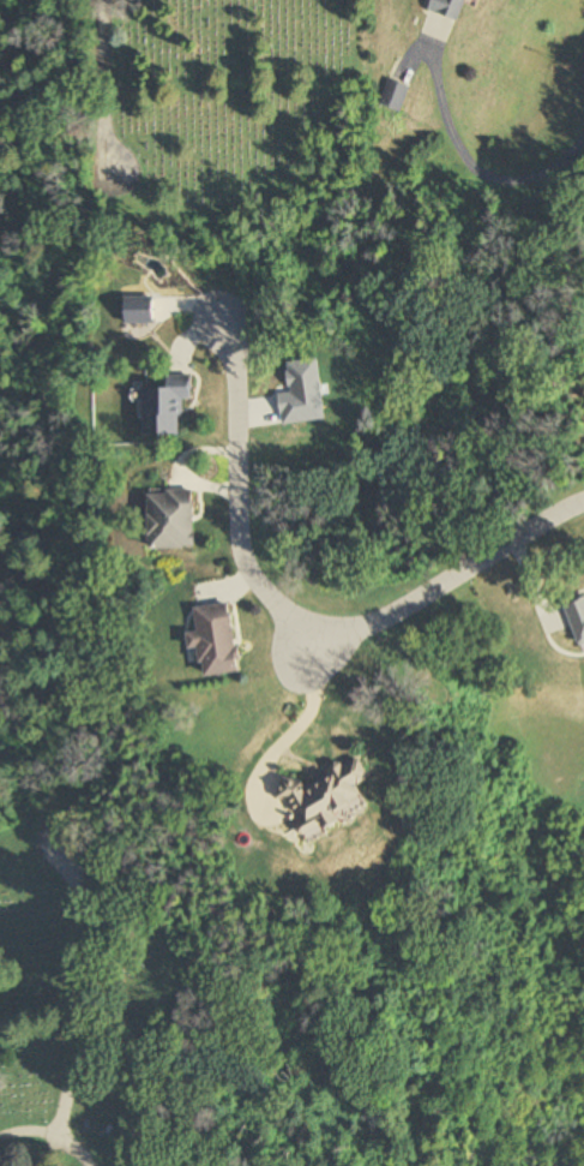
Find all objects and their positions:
building: (450, 8)
road: (103, 86)
building: (396, 97)
road: (466, 166)
building: (165, 407)
road: (236, 494)
building: (170, 520)
road: (447, 582)
building: (578, 617)
building: (216, 640)
building: (329, 799)
park: (68, 988)
road: (78, 1005)
road: (48, 1137)

